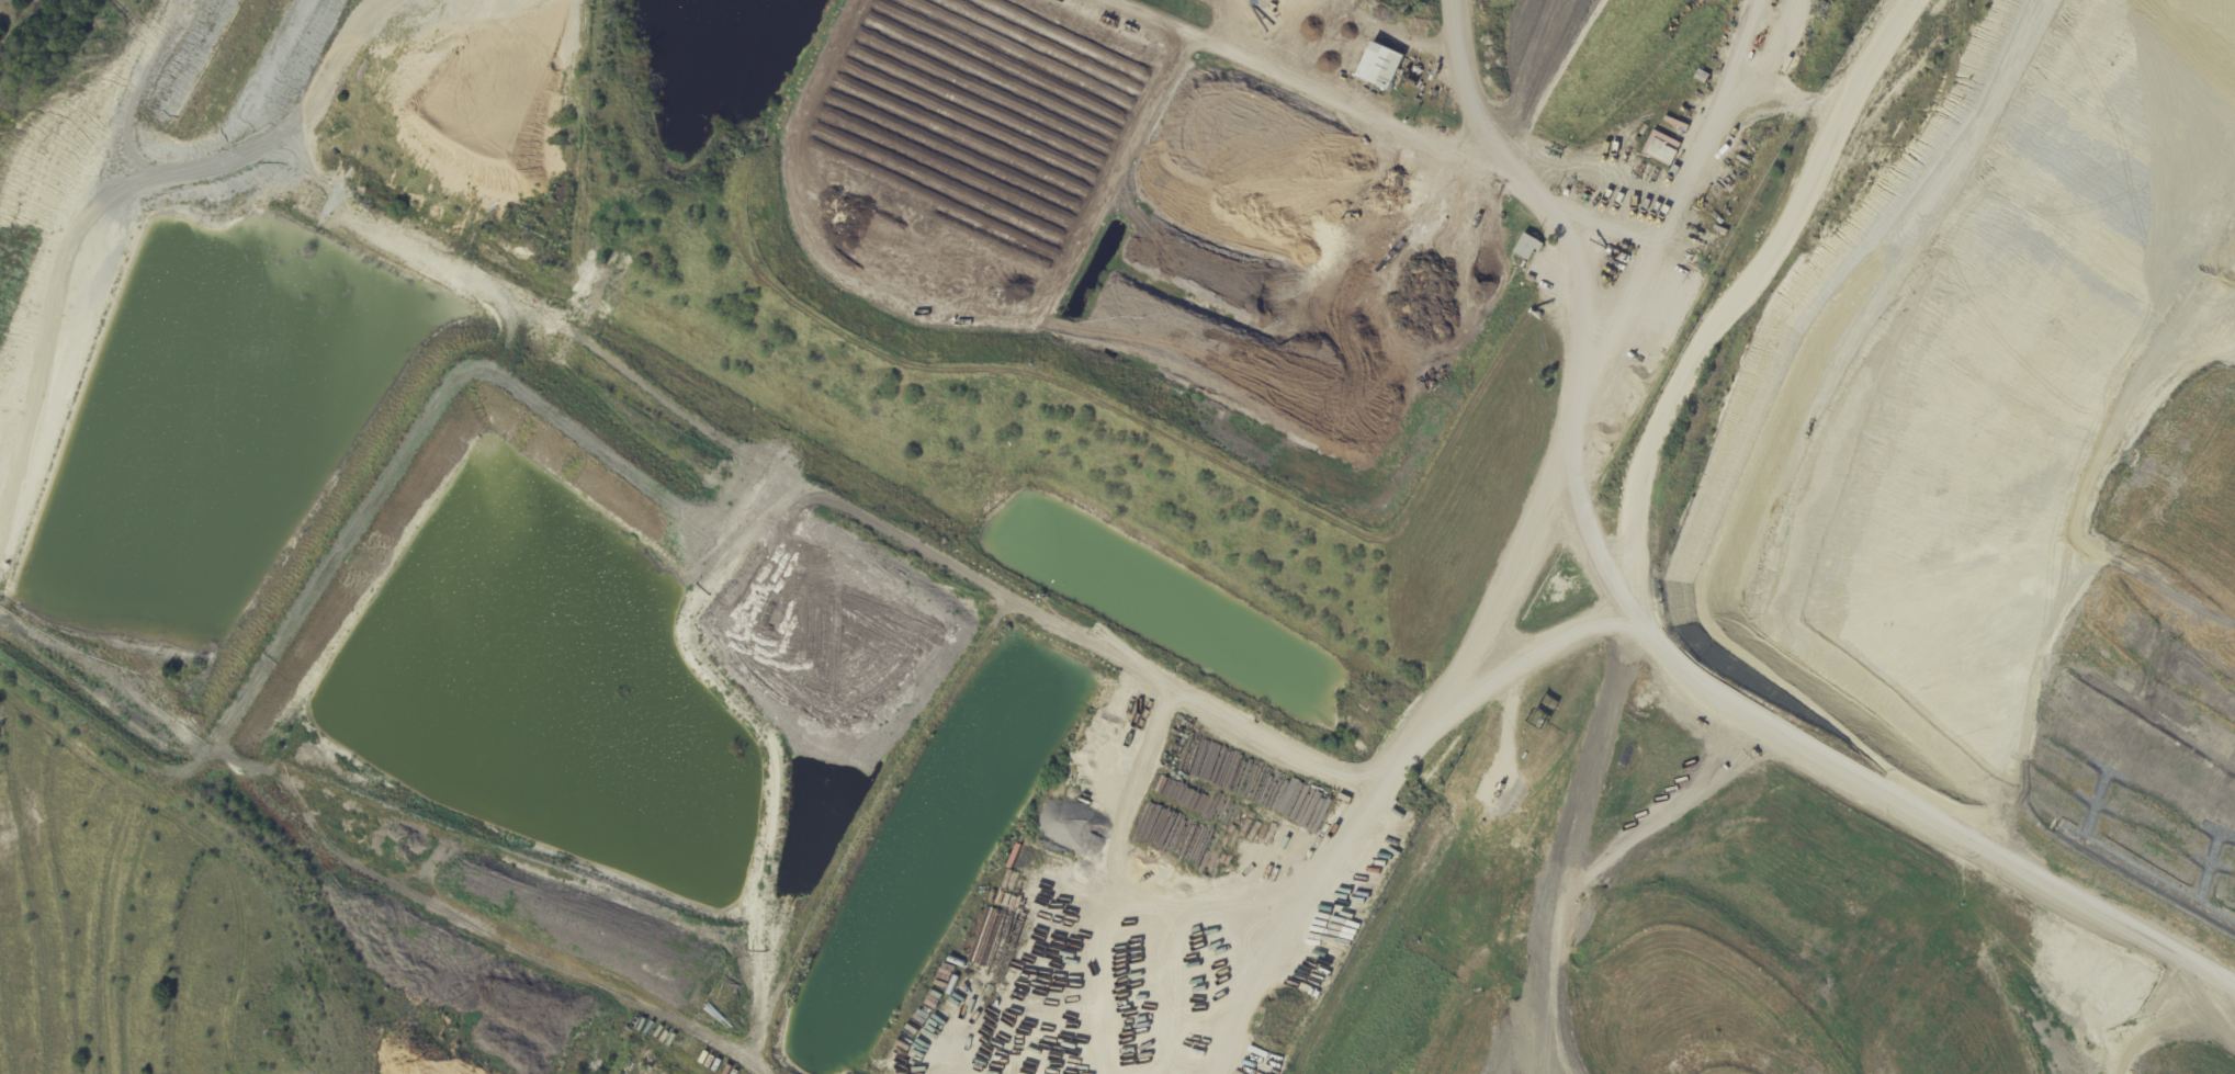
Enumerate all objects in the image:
building: (1379, 65)
building: (1431, 83)
building: (1434, 94)
road: (1711, 116)
road: (1504, 165)
building: (1526, 246)
road: (1705, 329)
landfill: (1895, 629)
road: (1520, 664)
road: (1432, 709)
road: (1852, 775)

